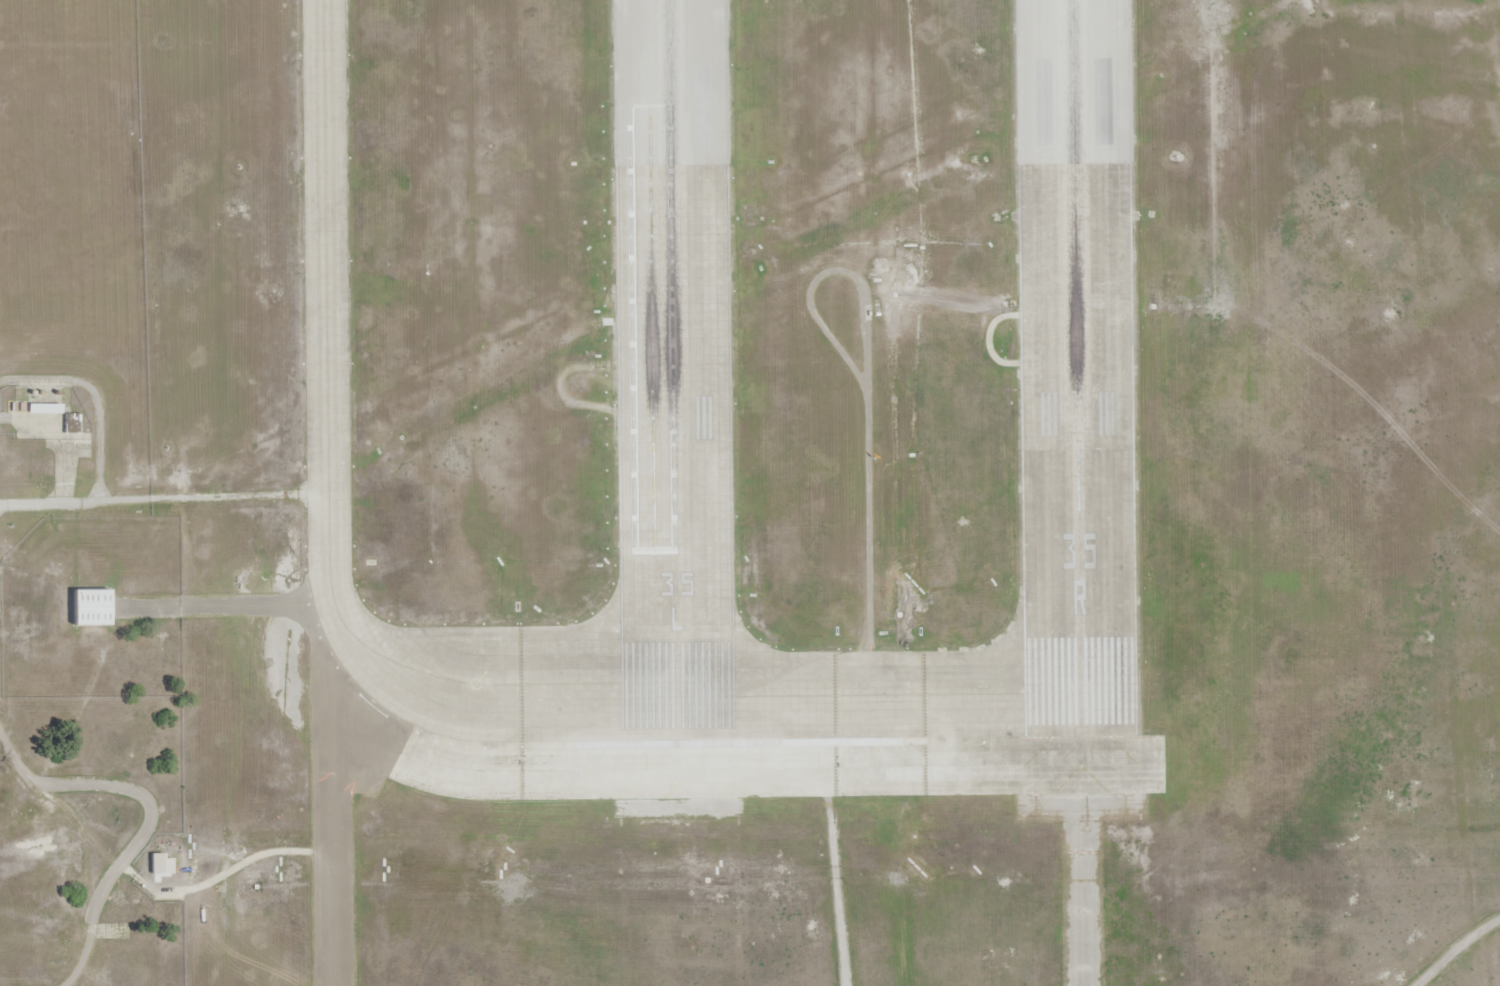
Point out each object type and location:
airport taxiway: (326, 330)
airport runway: (1076, 367)
airport runway: (673, 369)
airport: (742, 399)
building: (45, 409)
building: (70, 425)
road: (39, 505)
building: (91, 607)
airport taxiway: (518, 685)
airport taxiway: (878, 688)

